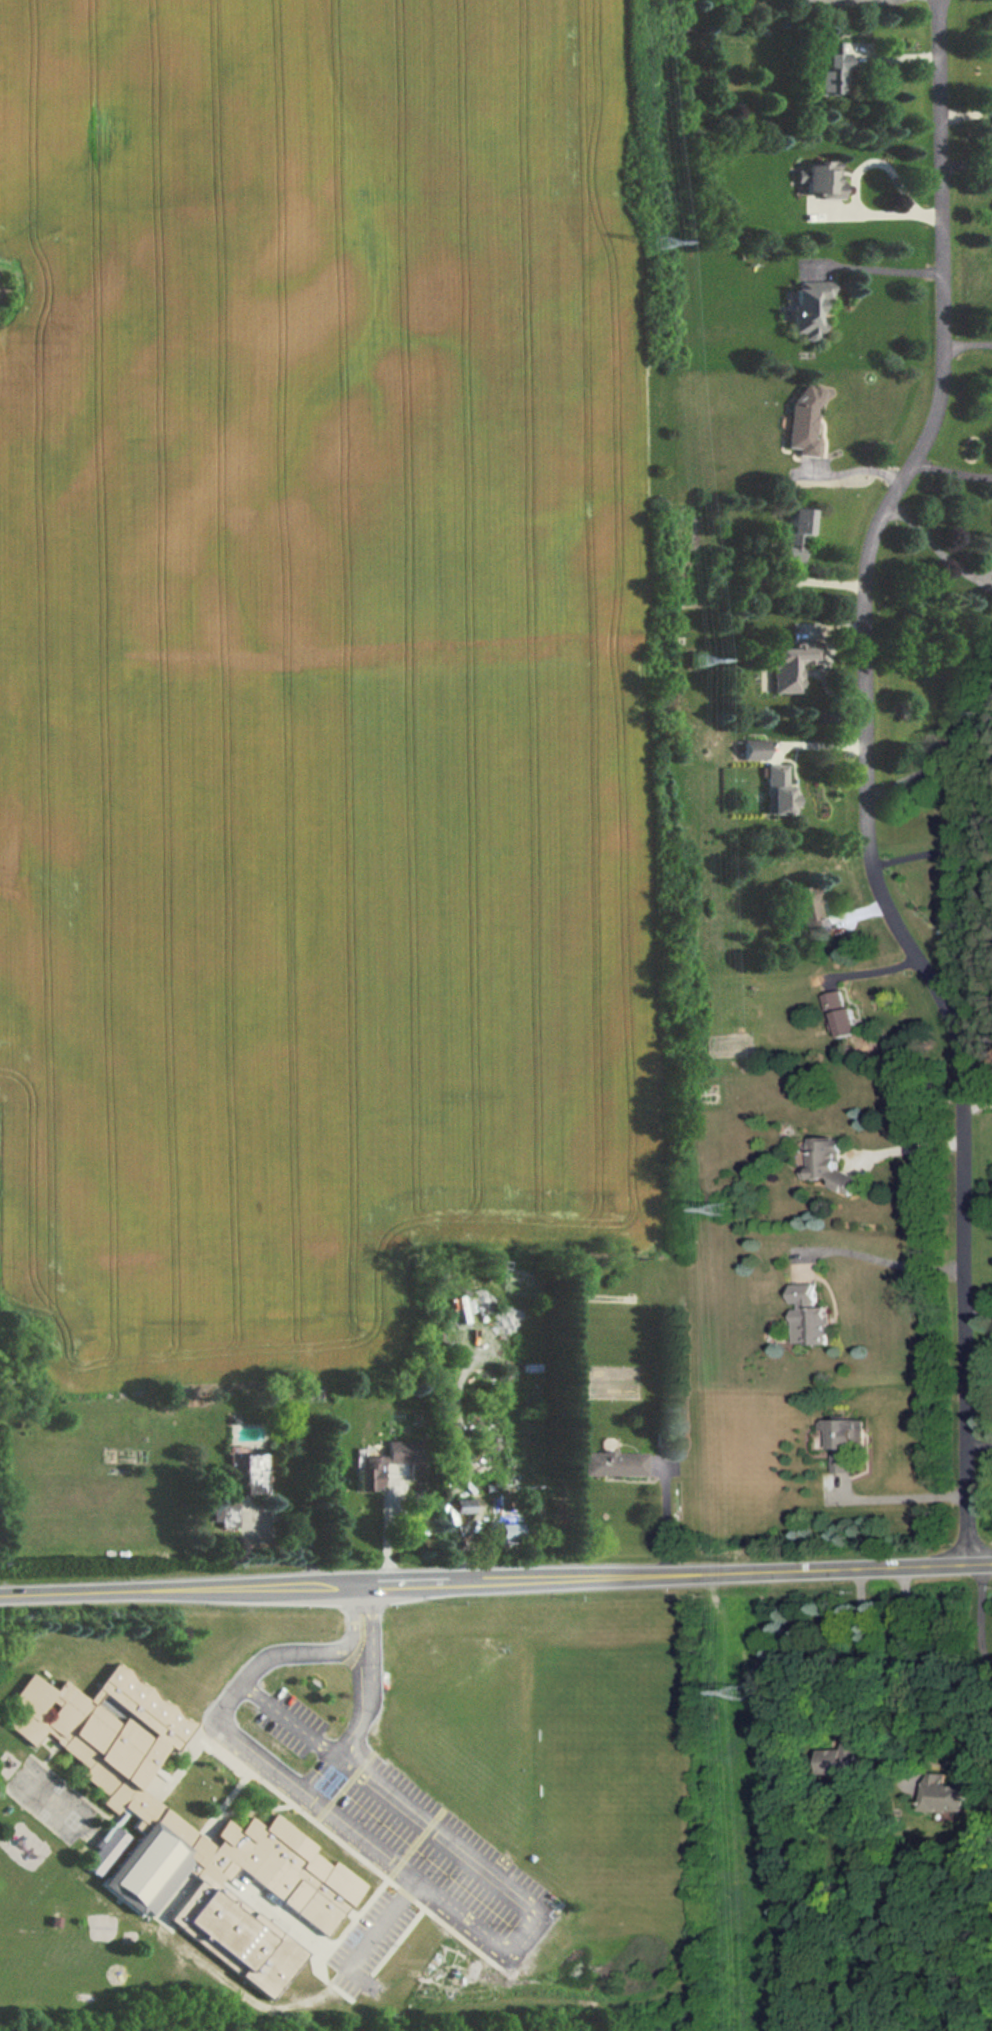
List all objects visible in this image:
road: (869, 1)
road: (899, 59)
building: (834, 72)
road: (967, 116)
road: (882, 165)
road: (968, 166)
building: (823, 180)
road: (882, 215)
power tower: (659, 245)
road: (878, 269)
building: (812, 304)
road: (970, 345)
building: (805, 421)
road: (858, 472)
road: (953, 473)
building: (800, 533)
road: (937, 550)
building: (990, 551)
road: (824, 584)
road: (819, 632)
power tower: (698, 663)
building: (790, 666)
road: (826, 667)
crop: (314, 673)
road: (823, 746)
building: (756, 750)
road: (952, 751)
road: (871, 783)
road: (954, 784)
road: (895, 785)
building: (781, 791)
road: (935, 863)
building: (809, 910)
road: (868, 919)
road: (878, 981)
building: (843, 1017)
road: (981, 1105)
road: (913, 1146)
building: (830, 1166)
power tower: (723, 1211)
road: (887, 1258)
road: (981, 1312)
building: (812, 1316)
building: (602, 1379)
building: (845, 1439)
road: (983, 1440)
building: (612, 1467)
road: (654, 1467)
building: (249, 1469)
building: (368, 1470)
road: (900, 1496)
road: (662, 1513)
road: (390, 1530)
building: (509, 1530)
road: (496, 1579)
road: (352, 1615)
road: (982, 1615)
road: (372, 1629)
road: (865, 1653)
road: (915, 1661)
power tower: (745, 1691)
parking lot: (294, 1715)
road: (267, 1753)
building: (849, 1754)
park: (614, 1760)
building: (949, 1804)
building: (180, 1820)
building: (106, 1850)
parking lot: (449, 1853)
road: (508, 1881)
road: (383, 1918)
parking lot: (371, 1933)

